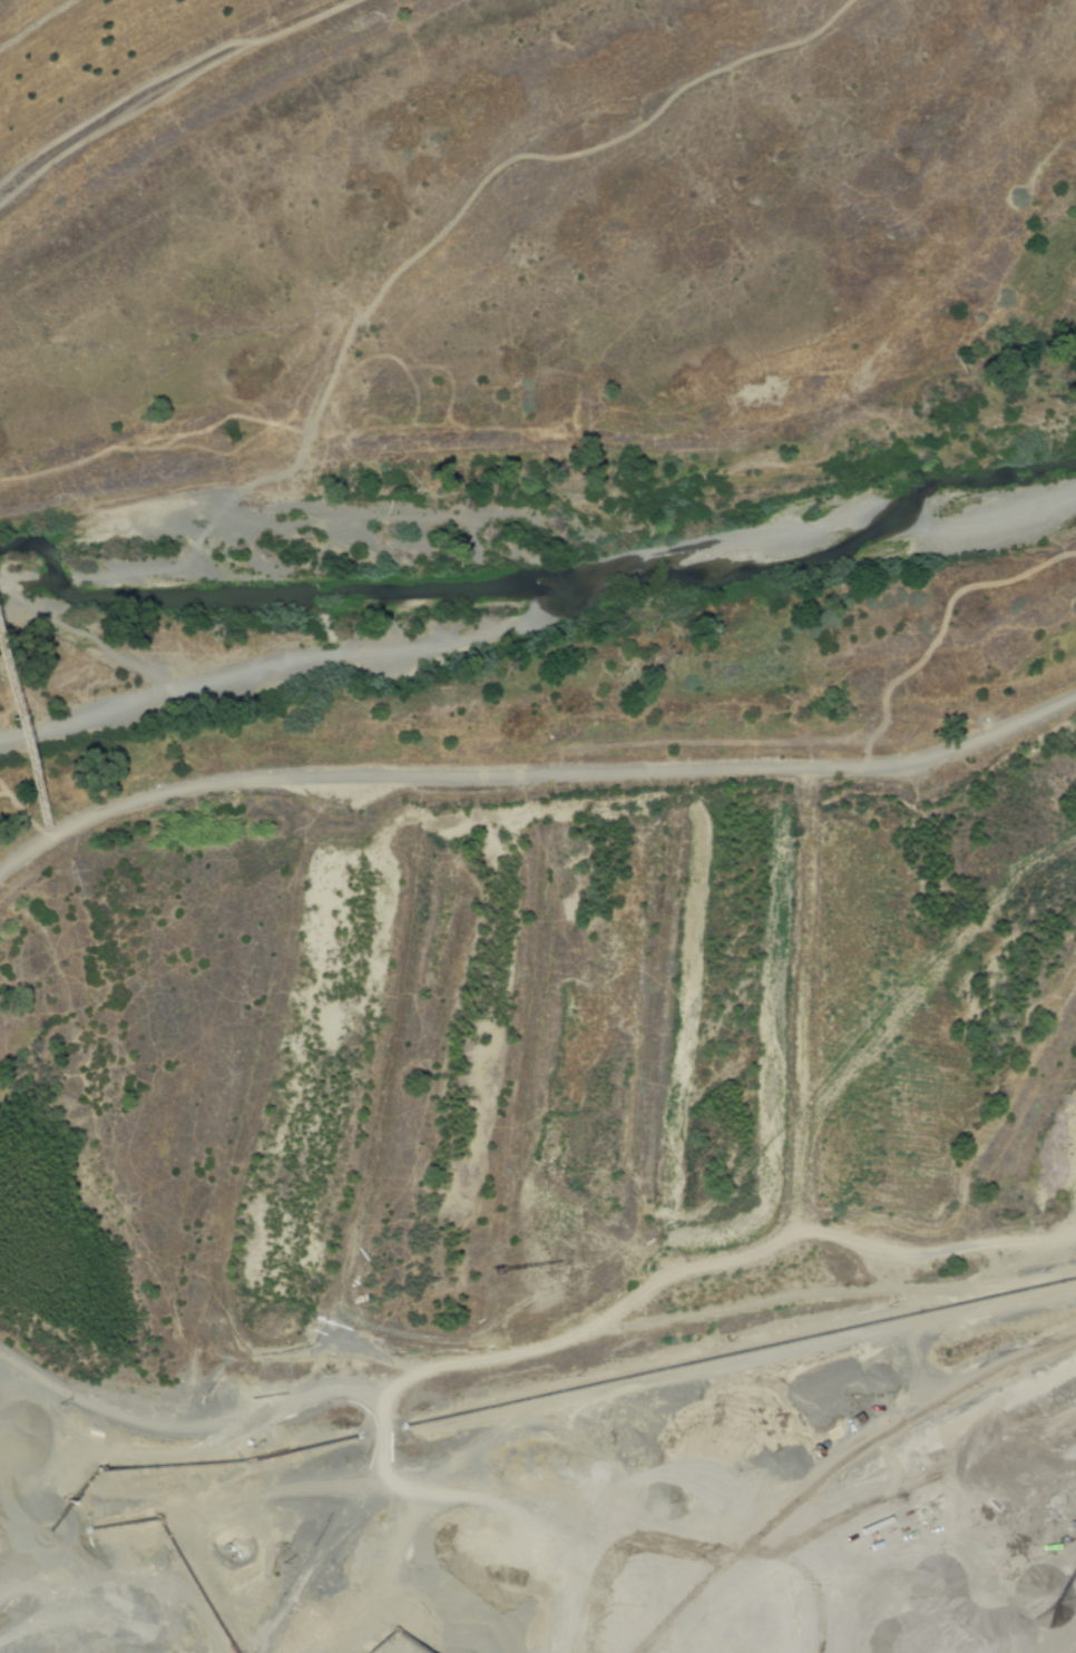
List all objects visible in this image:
river: (540, 596)
quarry: (623, 1383)

